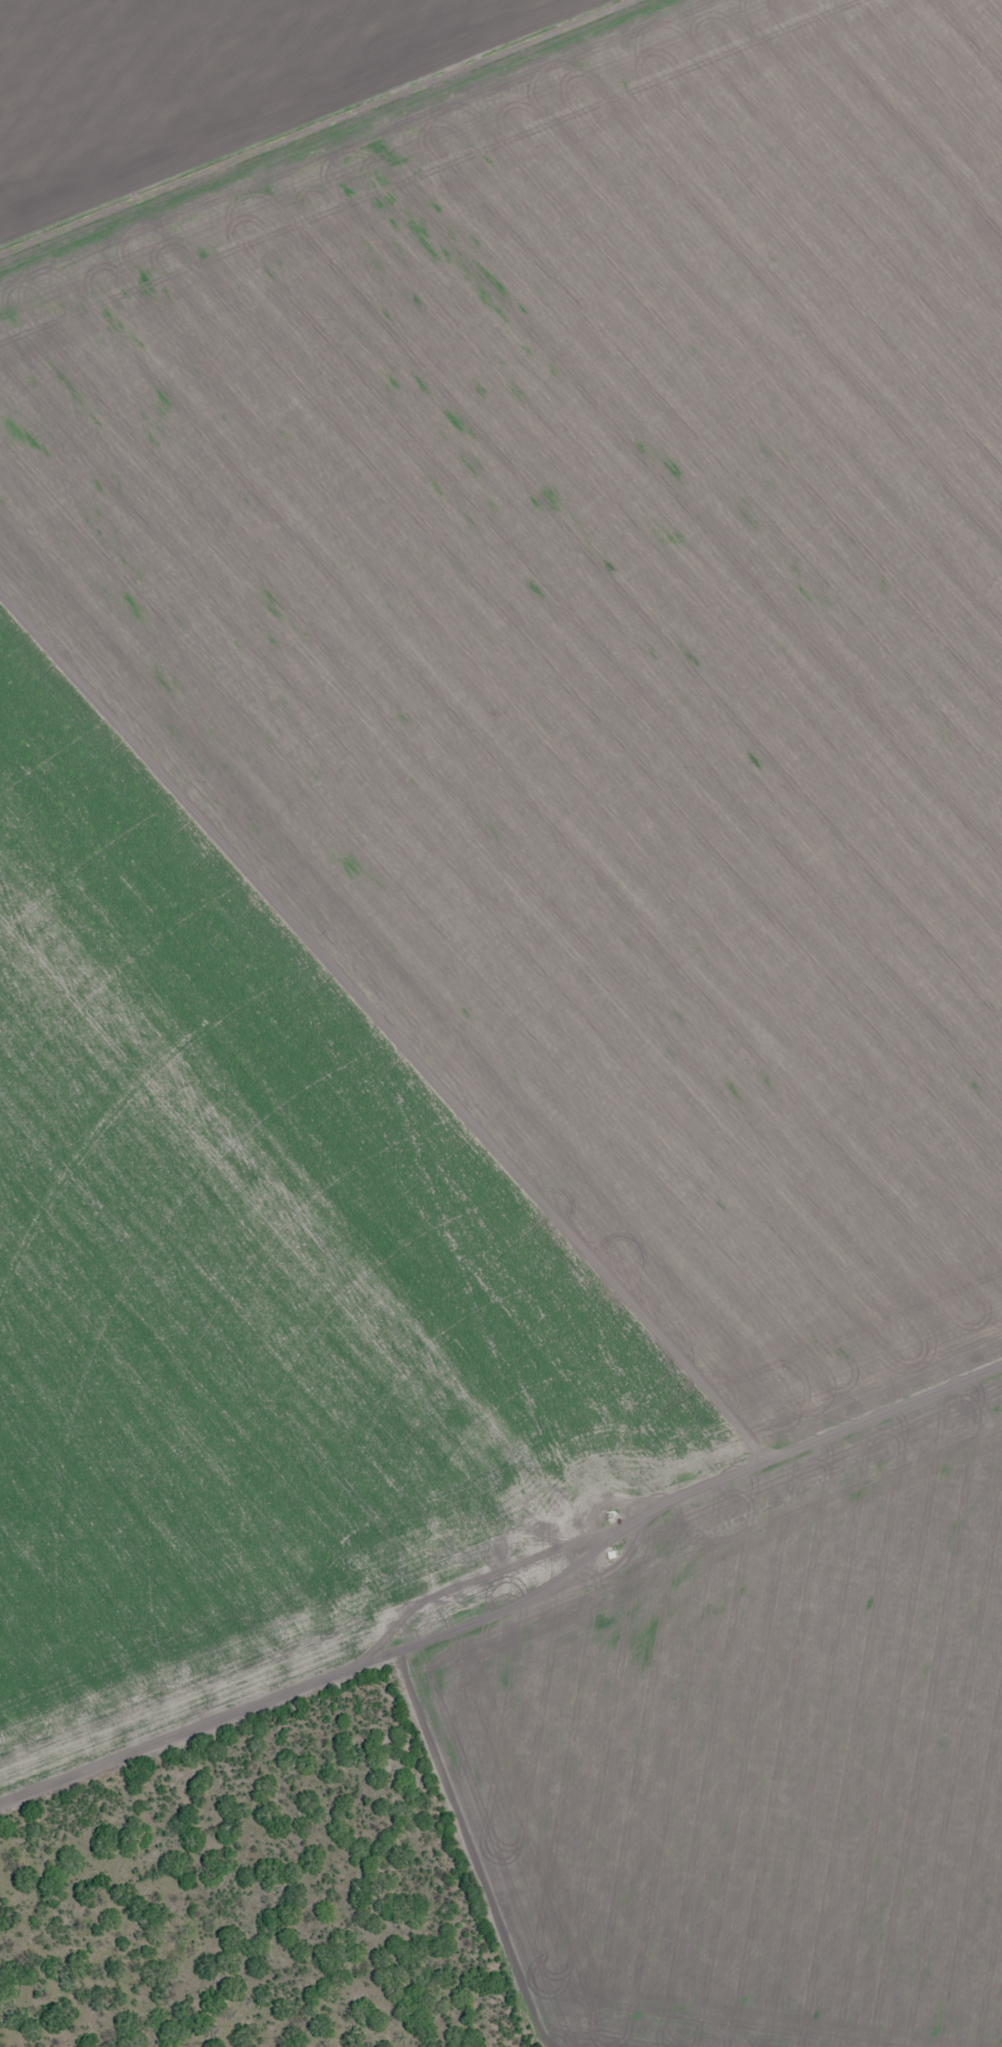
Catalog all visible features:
road: (321, 128)
road: (827, 1437)
road: (328, 1659)
road: (461, 1842)

